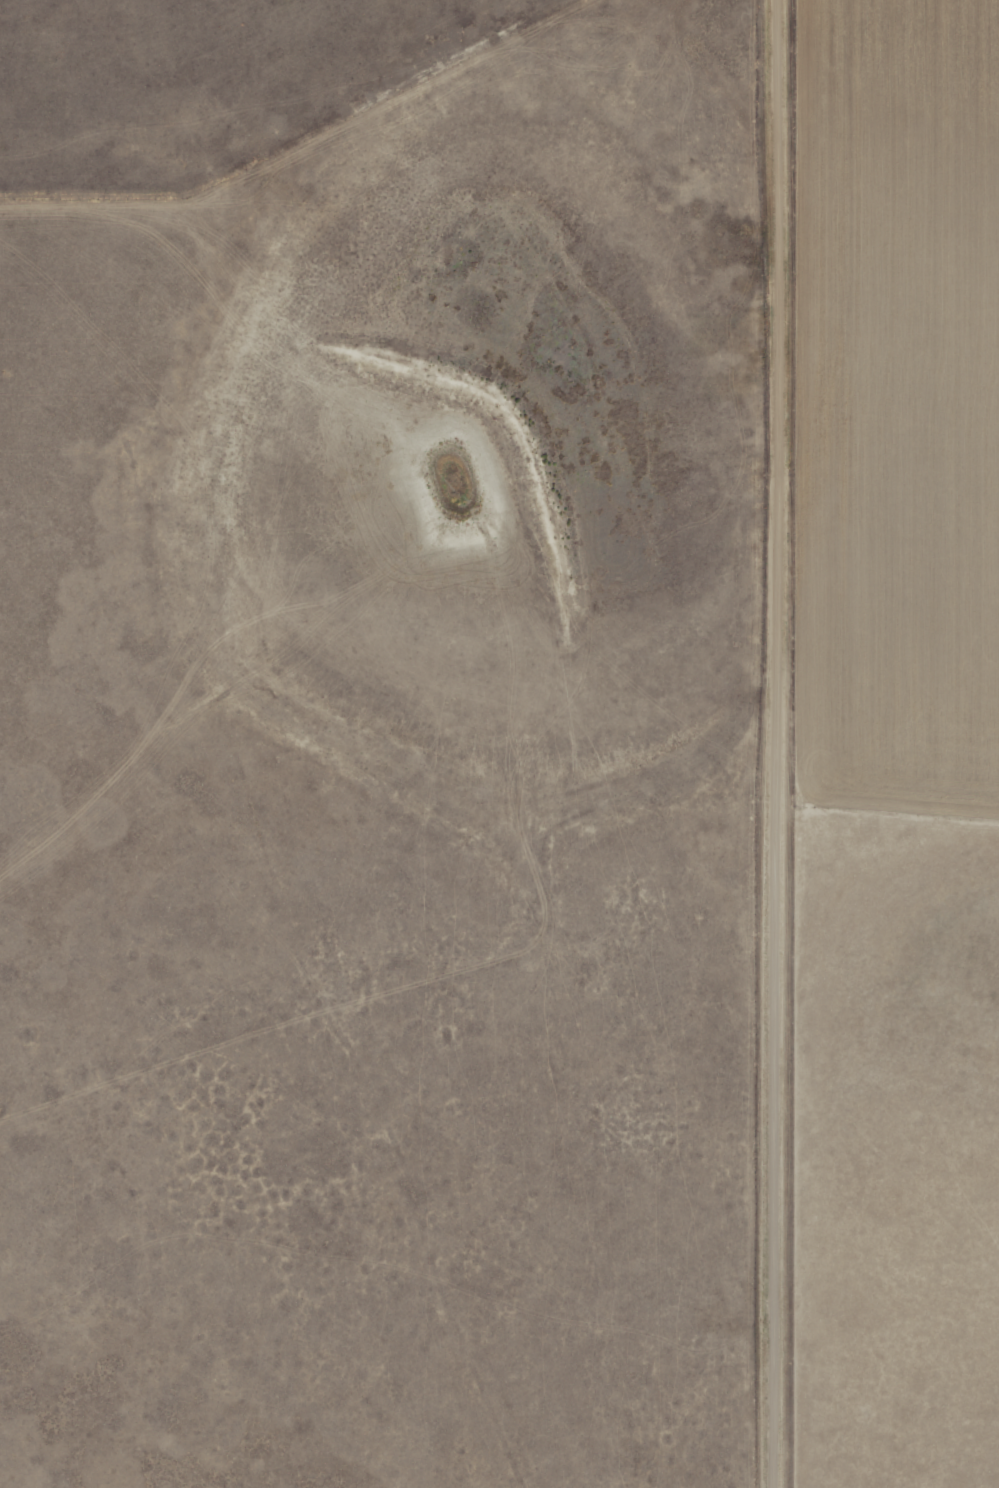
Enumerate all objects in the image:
road: (779, 744)

